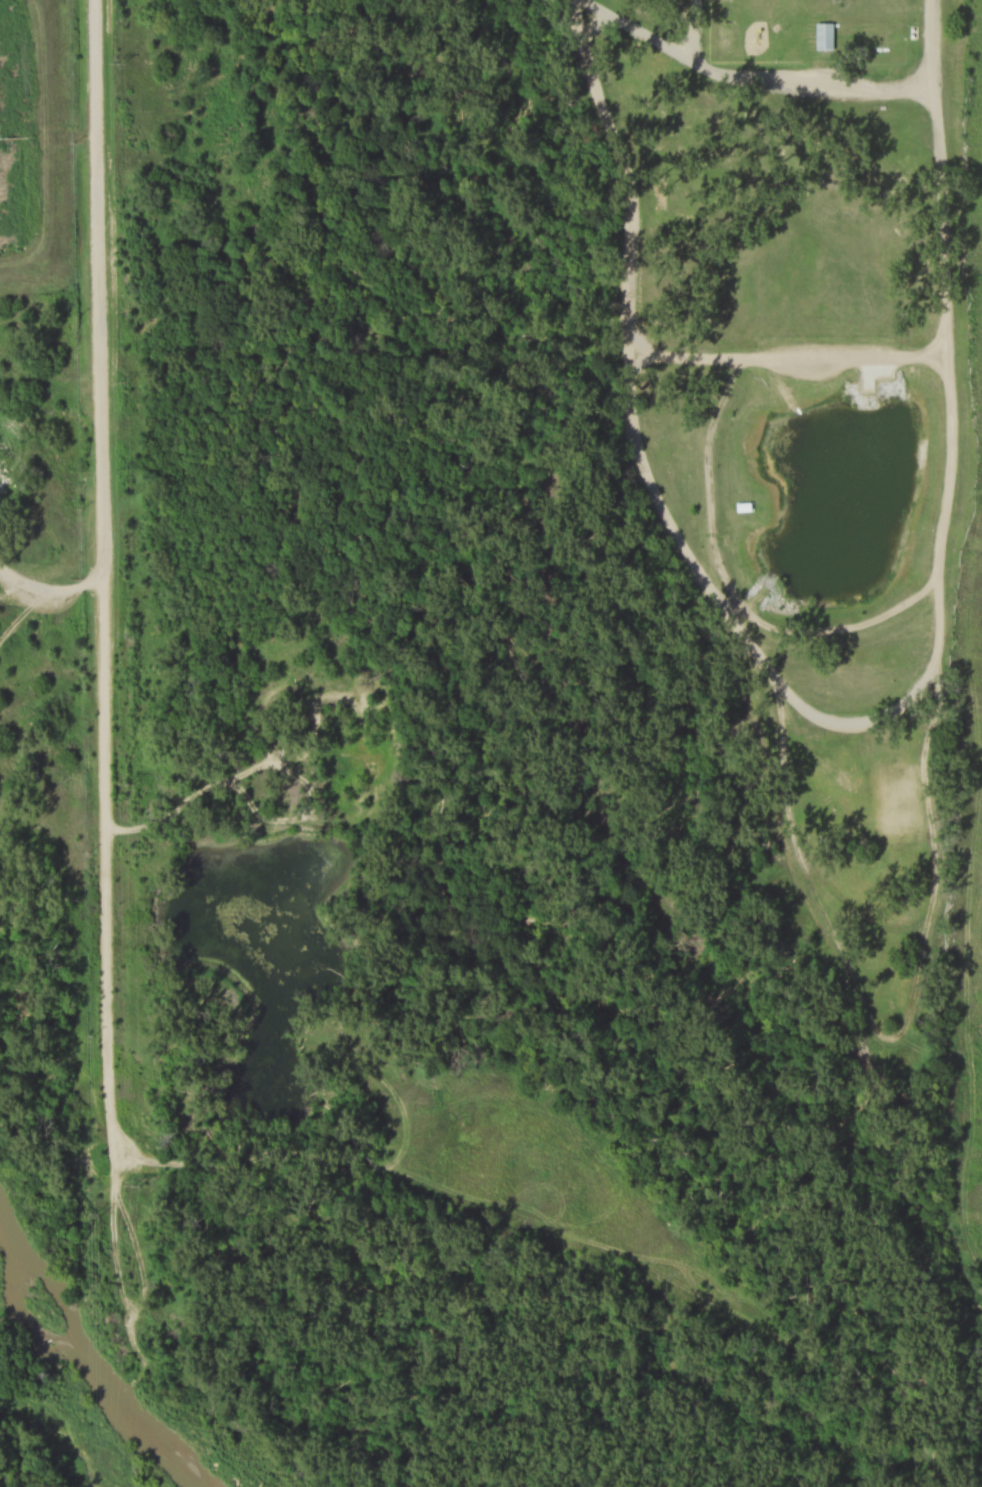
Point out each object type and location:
road: (693, 34)
building: (821, 38)
road: (748, 83)
road: (636, 446)
road: (101, 575)
road: (939, 628)
river: (86, 1362)

